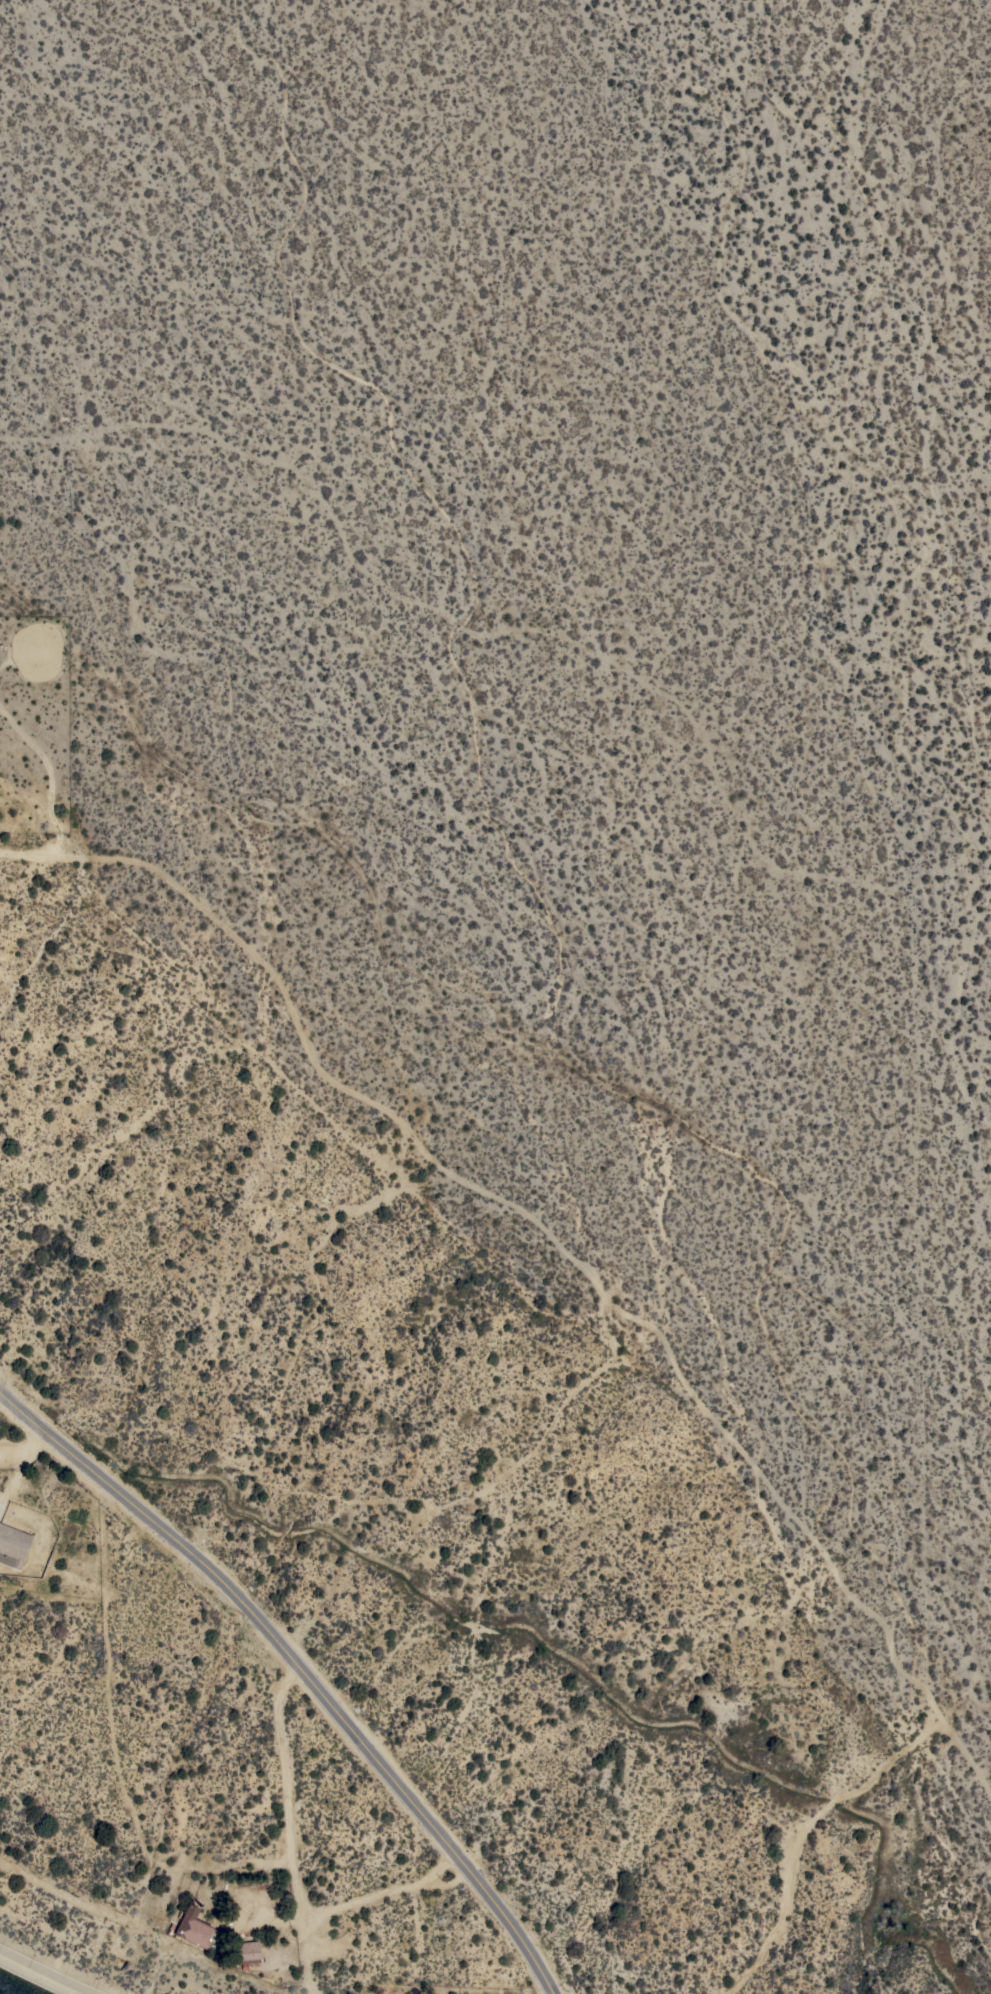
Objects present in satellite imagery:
road: (61, 790)
road: (32, 1444)
building: (13, 1545)
road: (304, 1666)
road: (289, 1827)
road: (385, 1894)
building: (195, 1928)
building: (252, 1955)
building: (283, 1974)
road: (554, 1992)

